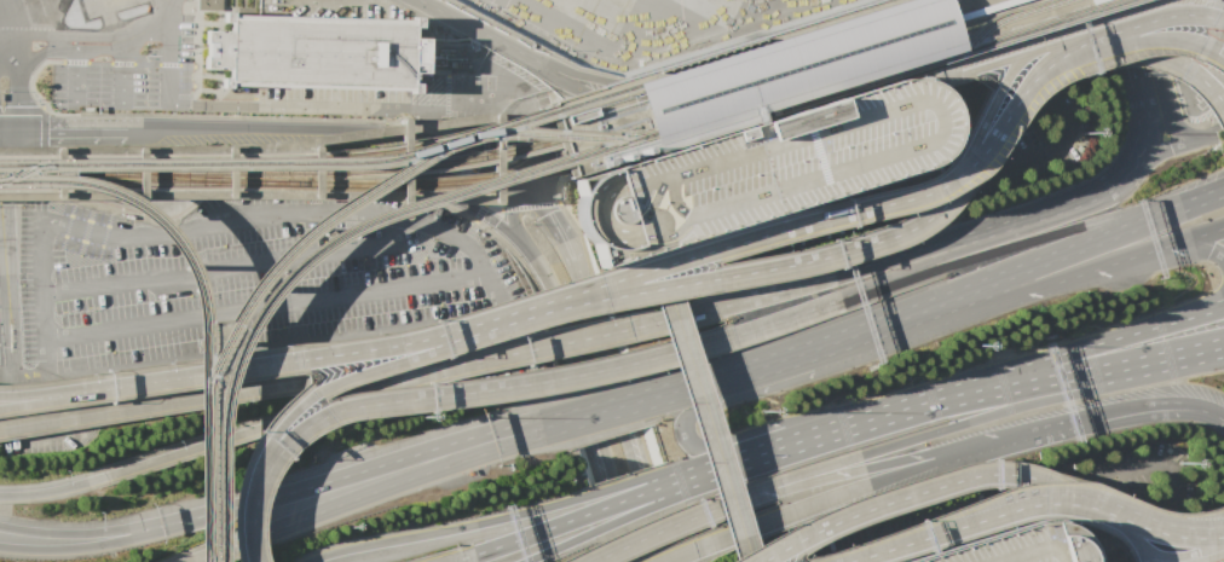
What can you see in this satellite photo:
building: (207, 5)
road: (169, 8)
airport apron: (709, 10)
road: (1170, 13)
railway: (993, 18)
airport apron: (576, 19)
road: (88, 40)
road: (507, 46)
railway: (783, 46)
road: (1109, 46)
railway: (958, 48)
building: (314, 50)
railway: (767, 51)
railway: (779, 53)
railway: (732, 56)
railway: (790, 57)
road: (1003, 57)
railway: (809, 60)
railway: (776, 66)
railway: (808, 68)
railway: (681, 69)
railway: (831, 69)
road: (121, 70)
road: (75, 73)
building: (773, 73)
railway: (819, 77)
road: (565, 81)
road: (1030, 82)
road: (993, 89)
road: (246, 102)
railway: (720, 110)
road: (752, 117)
road: (1172, 118)
road: (275, 127)
traffic signals: (46, 128)
road: (62, 128)
road: (1141, 129)
railway: (558, 135)
traffic signals: (560, 150)
railway: (402, 151)
road: (490, 151)
road: (1159, 152)
railway: (125, 161)
railway: (231, 162)
road: (468, 163)
road: (531, 163)
railway: (164, 166)
railway: (23, 168)
building: (761, 168)
parking lot: (761, 168)
railway: (346, 170)
railway: (40, 172)
railway: (104, 172)
road: (10, 173)
road: (112, 173)
road: (314, 173)
railway: (215, 178)
railway: (434, 181)
railway: (150, 185)
road: (467, 185)
traffic signals: (479, 185)
traffic signals: (0, 186)
road: (116, 197)
road: (1179, 207)
road: (848, 212)
road: (1046, 213)
road: (483, 214)
traffic signals: (542, 215)
road: (0, 219)
road: (0, 222)
road: (513, 225)
railway: (160, 226)
road: (548, 226)
railway: (301, 233)
road: (1016, 243)
railway: (317, 248)
road: (1189, 248)
road: (2, 253)
road: (1056, 255)
road: (907, 256)
road: (941, 256)
road: (1102, 265)
road: (231, 266)
airport: (612, 280)
road: (702, 280)
road: (490, 282)
road: (870, 286)
road: (1211, 300)
road: (265, 306)
road: (689, 313)
road: (894, 319)
road: (1120, 335)
road: (1212, 346)
road: (664, 353)
road: (317, 355)
road: (1166, 357)
road: (365, 370)
road: (1078, 371)
road: (727, 373)
road: (271, 387)
road: (54, 392)
road: (54, 395)
road: (952, 395)
road: (354, 404)
road: (595, 406)
road: (699, 406)
road: (318, 407)
road: (590, 407)
road: (1114, 407)
road: (993, 410)
road: (688, 412)
road: (599, 413)
road: (618, 418)
road: (774, 429)
road: (778, 445)
road: (784, 458)
road: (386, 460)
road: (936, 460)
road: (882, 464)
railway: (201, 475)
road: (1018, 477)
road: (789, 480)
road: (627, 482)
road: (388, 483)
road: (47, 491)
road: (631, 497)
road: (743, 499)
road: (1089, 506)
road: (1061, 510)
road: (636, 511)
road: (786, 512)
road: (248, 521)
road: (1177, 523)
road: (114, 528)
road: (662, 528)
road: (441, 529)
road: (529, 533)
road: (804, 534)
road: (1219, 538)
road: (115, 540)
road: (901, 543)
road: (555, 546)
building: (1016, 546)
parking lot: (1016, 546)
road: (778, 550)
road: (677, 552)
road: (685, 552)
road: (1173, 552)
railway: (202, 554)
road: (209, 554)
road: (458, 557)
road: (593, 558)

